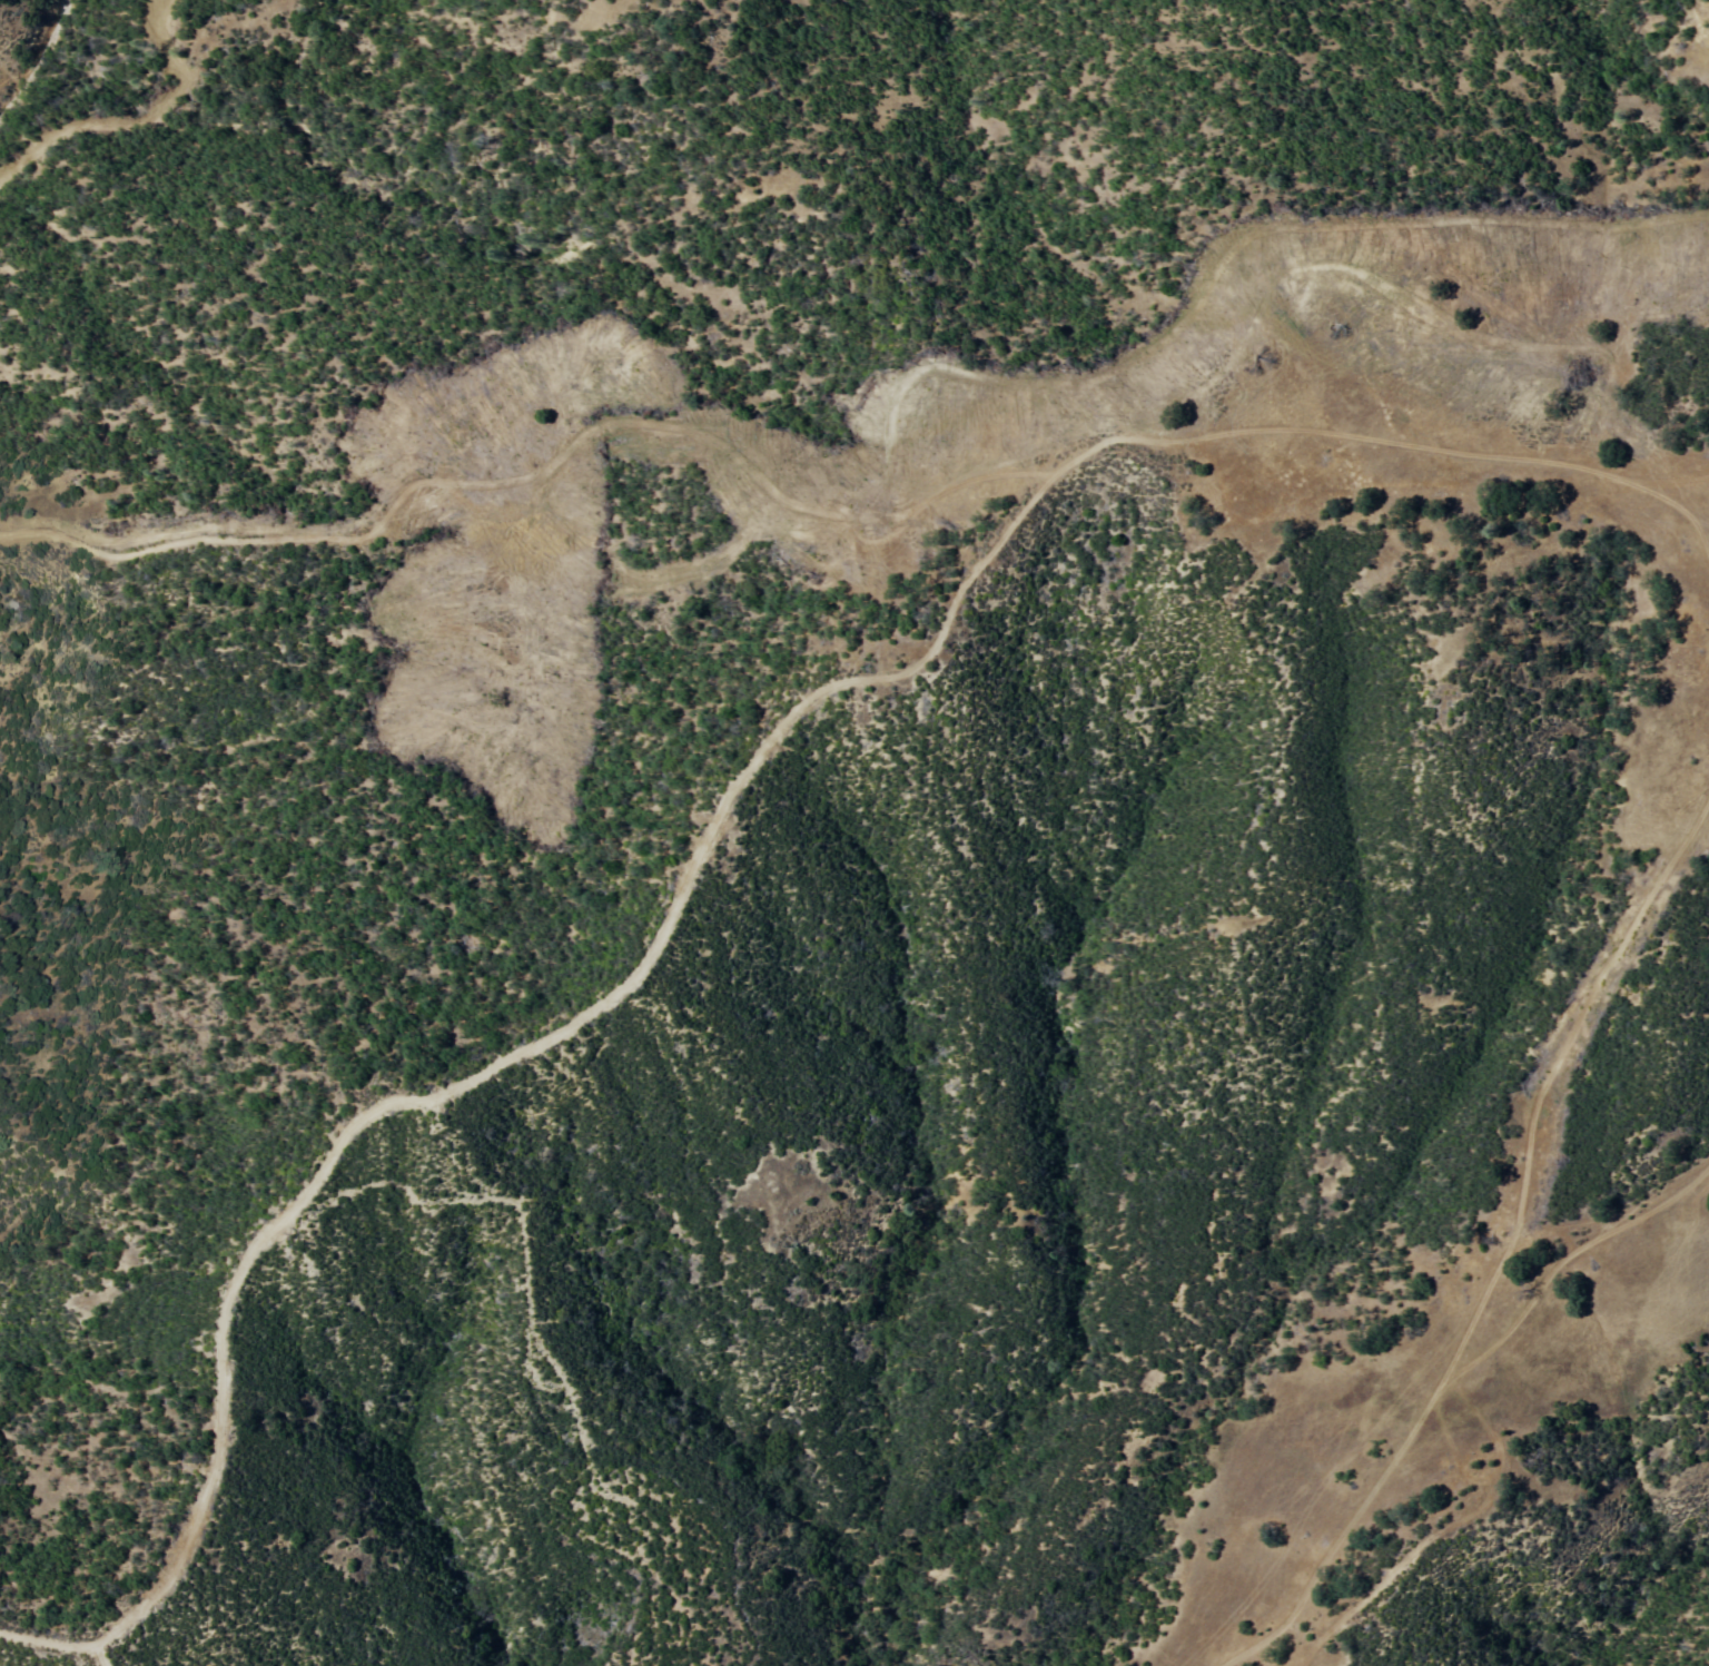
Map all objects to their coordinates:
road: (1436, 1384)

